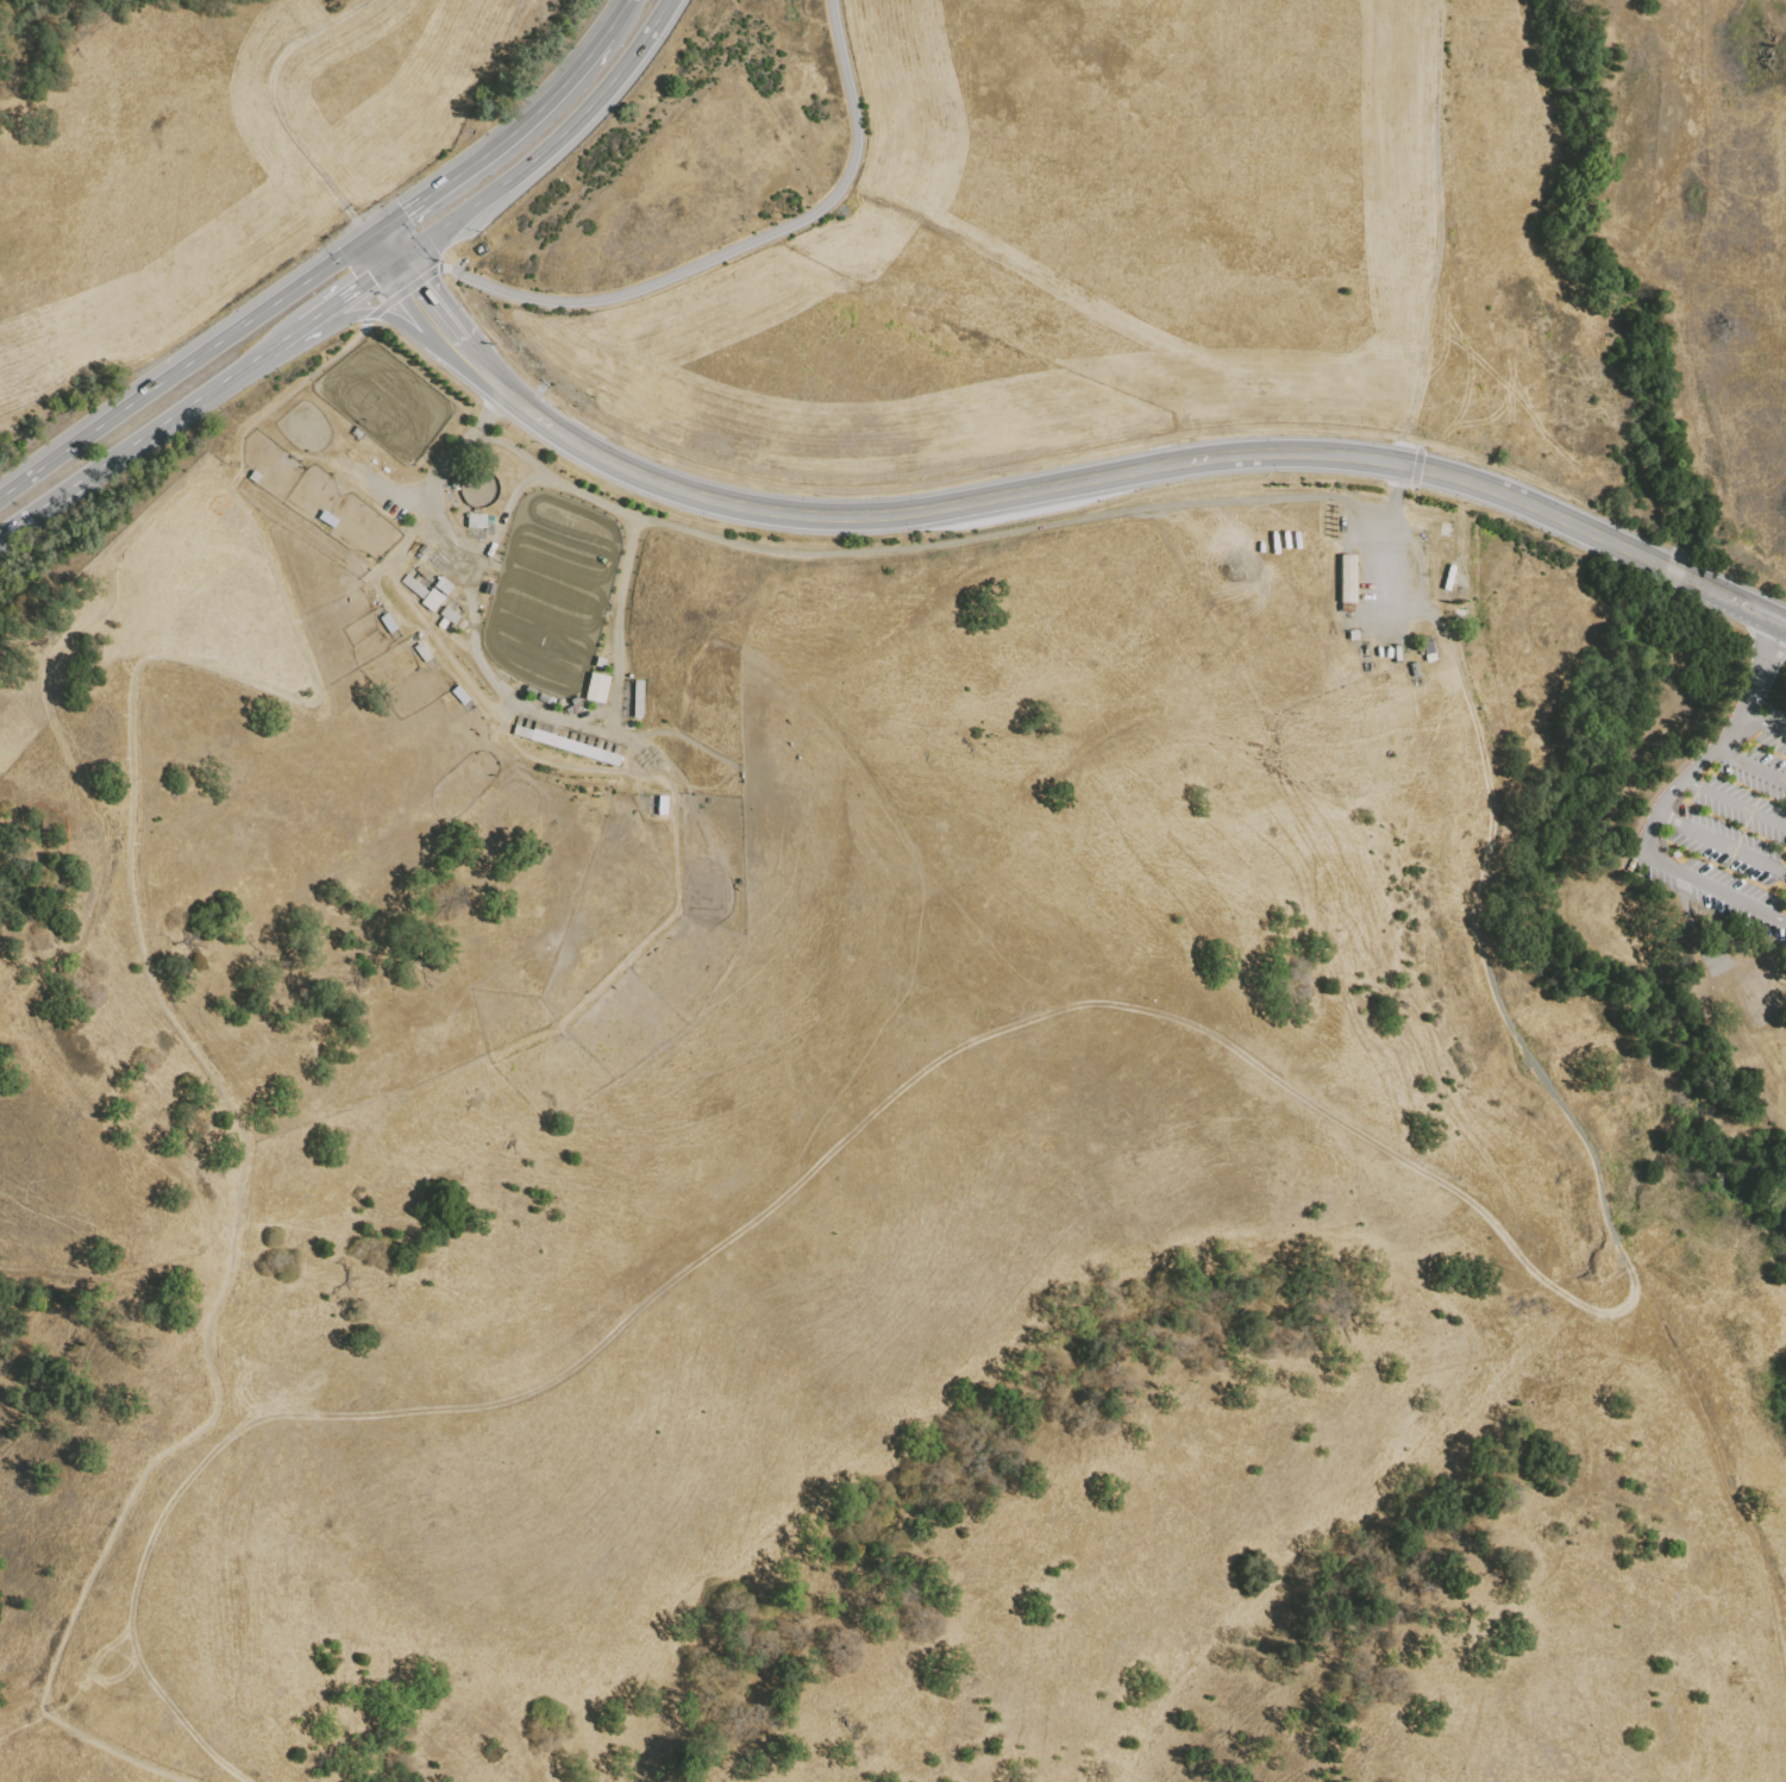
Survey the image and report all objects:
road: (618, 18)
road: (271, 103)
road: (496, 145)
road: (550, 151)
traffic signals: (401, 212)
road: (1441, 233)
road: (381, 250)
road: (701, 262)
traffic signals: (372, 282)
building: (756, 282)
traffic signals: (412, 290)
road: (347, 297)
building: (829, 300)
road: (425, 306)
building: (695, 308)
road: (382, 314)
road: (300, 333)
building: (612, 333)
building: (914, 341)
road: (462, 349)
road: (183, 362)
building: (921, 378)
road: (205, 400)
building: (358, 432)
building: (891, 437)
building: (704, 441)
building: (760, 453)
building: (817, 457)
road: (1417, 458)
building: (384, 470)
road: (1415, 478)
road: (1396, 487)
road: (1052, 488)
road: (56, 498)
building: (328, 519)
building: (476, 520)
building: (1415, 537)
road: (923, 547)
road: (1673, 569)
building: (1346, 579)
building: (444, 585)
building: (414, 586)
road: (471, 590)
road: (1730, 596)
building: (432, 600)
building: (1348, 614)
building: (450, 615)
road: (1782, 620)
building: (1354, 634)
road: (615, 641)
building: (1469, 642)
building: (1471, 651)
building: (1484, 654)
building: (1362, 655)
building: (1485, 661)
road: (456, 666)
road: (1762, 666)
building: (1489, 670)
building: (1491, 676)
building: (1491, 683)
building: (597, 688)
building: (1491, 689)
building: (1493, 695)
building: (637, 698)
building: (1493, 701)
building: (578, 707)
building: (1496, 707)
building: (562, 711)
building: (1497, 713)
building: (1499, 719)
building: (1500, 723)
road: (1765, 723)
building: (1502, 730)
building: (566, 745)
road: (1717, 748)
road: (1751, 765)
road: (1669, 795)
building: (1474, 803)
road: (1735, 804)
building: (1466, 805)
building: (1486, 807)
building: (1484, 812)
building: (1481, 818)
parking lot: (1725, 824)
road: (1648, 834)
road: (1722, 842)
building: (1477, 852)
building: (1511, 860)
building: (1472, 861)
building: (1478, 862)
building: (1472, 870)
building: (1474, 877)
road: (1485, 877)
building: (1499, 885)
road: (1712, 887)
building: (1502, 949)
building: (1698, 966)
building: (1515, 975)
road: (148, 978)
building: (1512, 983)
building: (1511, 990)
building: (1511, 998)
building: (1509, 1006)
building: (1592, 1014)
building: (1552, 1044)
building: (1618, 1056)
building: (1566, 1084)
building: (1631, 1118)
building: (1599, 1127)

